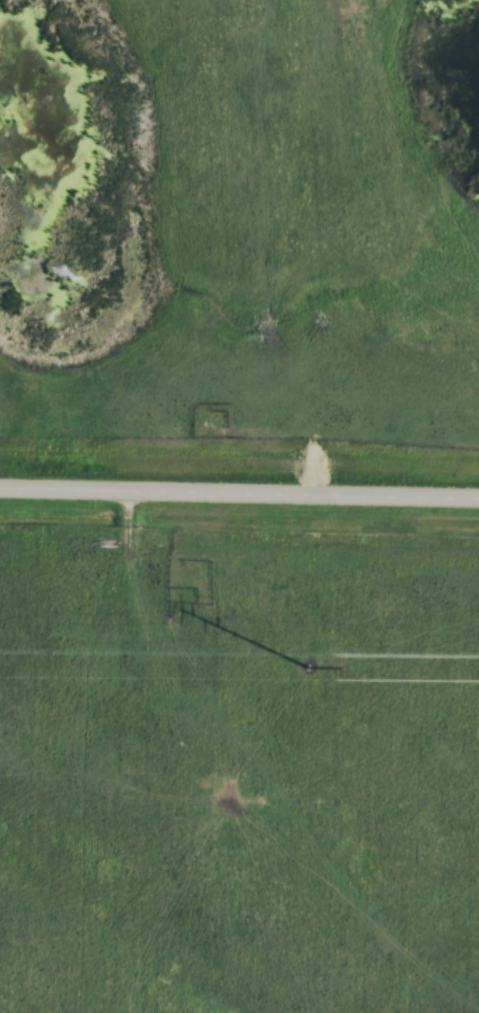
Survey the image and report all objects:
road: (239, 492)
power tower: (306, 664)

